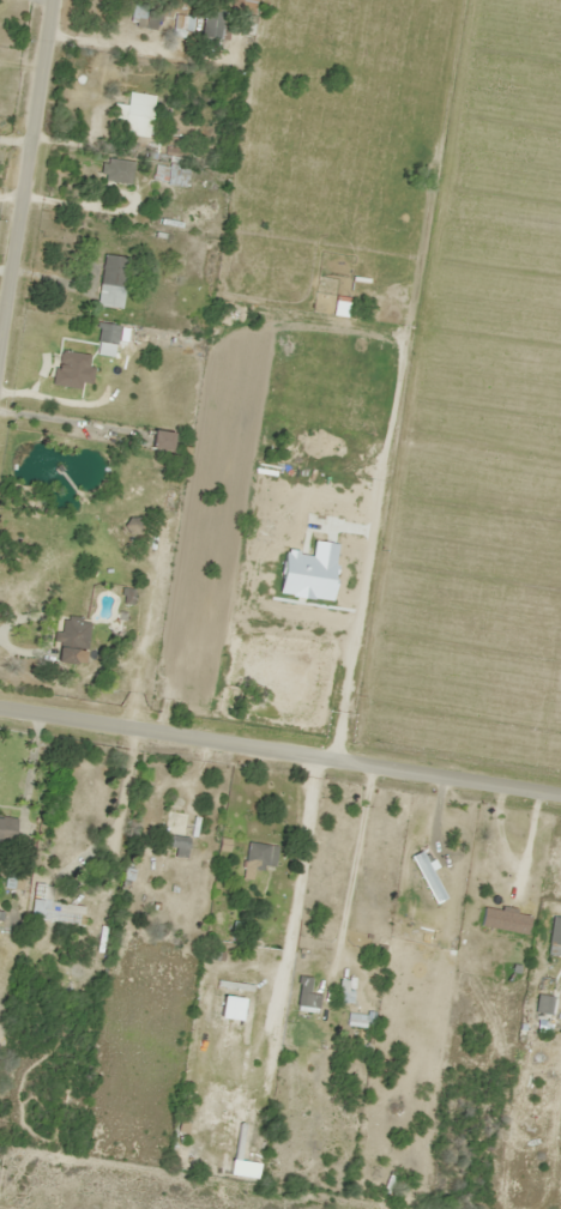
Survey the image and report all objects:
building: (147, 14)
building: (181, 25)
building: (212, 25)
building: (137, 114)
road: (24, 157)
building: (115, 170)
building: (167, 170)
building: (111, 280)
building: (104, 332)
building: (72, 365)
building: (68, 640)
road: (280, 749)
building: (5, 830)
building: (174, 844)
building: (259, 854)
building: (428, 871)
building: (502, 920)
building: (556, 935)
building: (303, 993)

